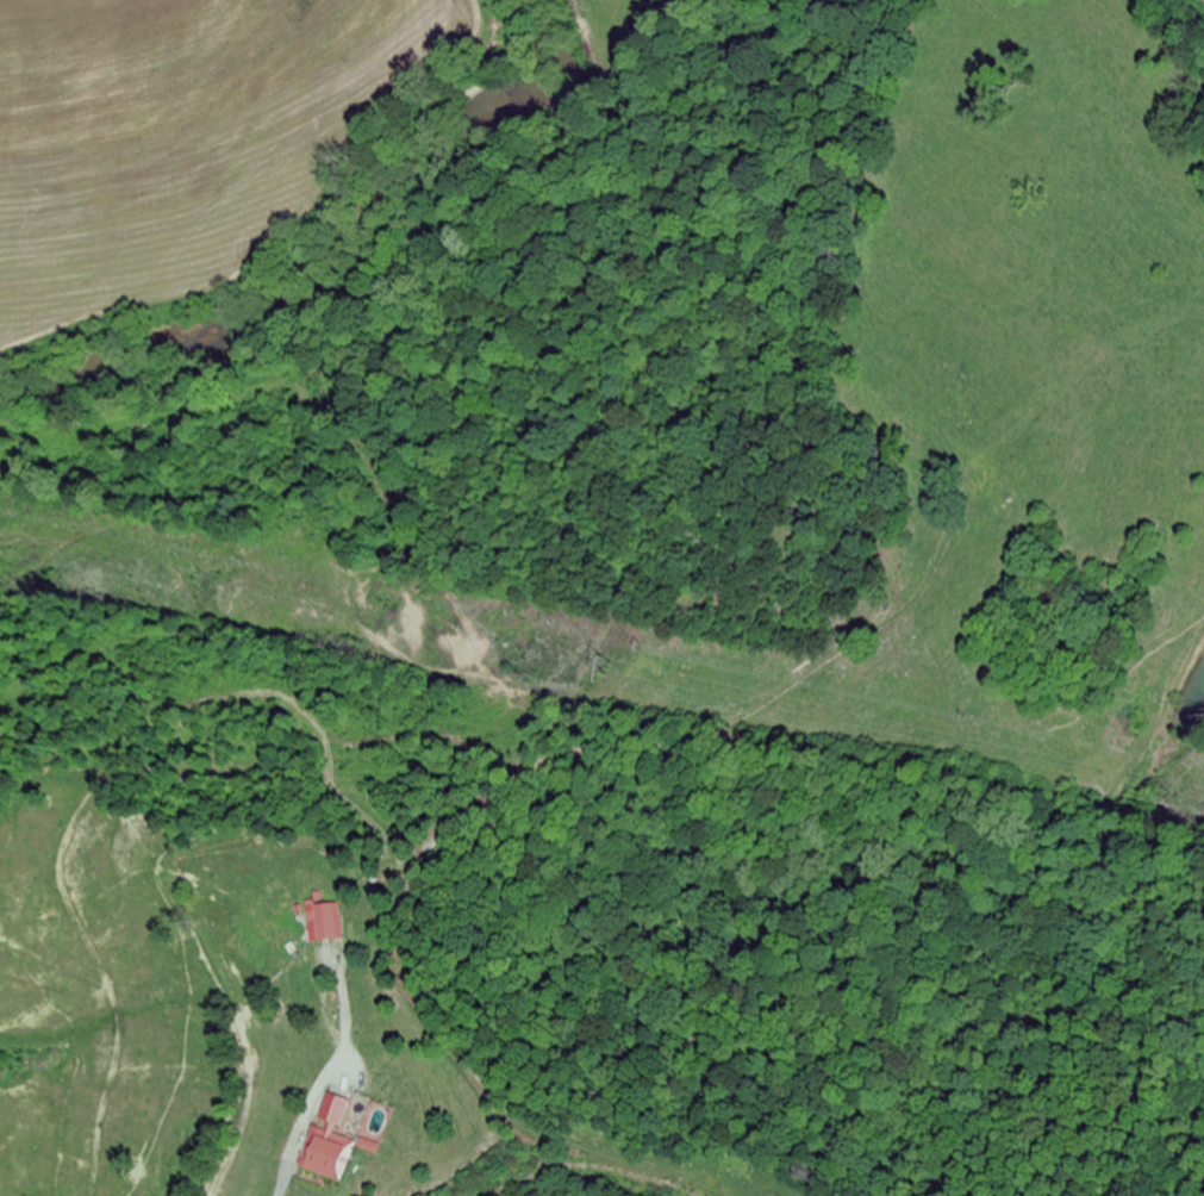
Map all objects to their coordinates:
building: (327, 924)
building: (332, 1141)

